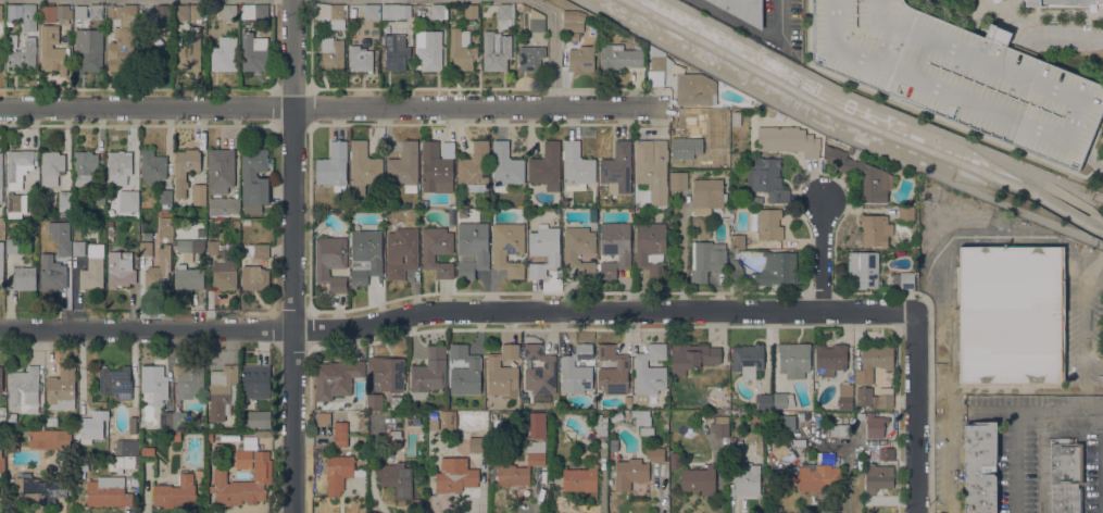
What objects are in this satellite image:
building: (1061, 2)
building: (742, 10)
building: (14, 11)
building: (254, 11)
building: (437, 11)
building: (471, 11)
building: (1, 12)
building: (28, 12)
building: (80, 12)
building: (96, 12)
building: (163, 12)
building: (187, 12)
building: (229, 12)
building: (372, 12)
building: (396, 12)
building: (330, 13)
building: (458, 13)
building: (63, 14)
building: (505, 15)
building: (9, 22)
building: (537, 23)
building: (573, 25)
road: (752, 30)
building: (122, 37)
road: (1061, 37)
building: (177, 38)
building: (12, 41)
road: (556, 43)
building: (89, 49)
building: (52, 50)
building: (429, 50)
building: (461, 50)
building: (189, 52)
building: (253, 52)
building: (396, 52)
building: (496, 52)
building: (225, 55)
building: (23, 57)
building: (331, 57)
building: (579, 57)
building: (530, 58)
building: (619, 58)
building: (154, 59)
building: (360, 59)
building: (655, 71)
building: (958, 75)
building: (685, 80)
road: (333, 107)
road: (881, 108)
building: (918, 127)
road: (837, 134)
building: (788, 140)
building: (686, 148)
building: (447, 149)
building: (18, 166)
building: (152, 166)
building: (334, 166)
building: (404, 166)
building: (435, 166)
building: (547, 166)
building: (51, 167)
building: (118, 167)
building: (475, 167)
building: (505, 167)
building: (577, 167)
building: (617, 167)
building: (363, 168)
building: (652, 168)
building: (185, 170)
building: (220, 170)
building: (862, 174)
building: (89, 175)
building: (1, 177)
building: (254, 179)
building: (767, 179)
building: (678, 180)
road: (1057, 191)
building: (709, 193)
building: (199, 195)
building: (165, 199)
building: (753, 200)
building: (64, 201)
building: (128, 201)
building: (354, 202)
building: (15, 204)
building: (564, 204)
building: (231, 209)
building: (80, 212)
building: (906, 213)
building: (34, 215)
building: (592, 215)
building: (110, 223)
building: (766, 224)
building: (165, 226)
building: (876, 230)
building: (693, 236)
building: (737, 241)
road: (945, 242)
building: (11, 246)
building: (64, 248)
building: (78, 248)
building: (212, 248)
building: (509, 248)
building: (614, 248)
building: (650, 248)
building: (146, 249)
building: (472, 249)
building: (543, 250)
building: (579, 250)
building: (184, 251)
building: (259, 251)
building: (437, 251)
building: (43, 252)
building: (401, 252)
road: (822, 253)
road: (680, 254)
building: (365, 255)
road: (292, 256)
building: (706, 260)
building: (1, 262)
building: (330, 262)
building: (92, 268)
building: (120, 270)
building: (735, 270)
building: (776, 270)
building: (863, 270)
building: (159, 272)
building: (225, 276)
building: (22, 278)
building: (189, 278)
building: (254, 278)
building: (904, 279)
building: (53, 280)
road: (455, 312)
building: (1011, 317)
road: (1083, 331)
building: (692, 356)
building: (877, 356)
building: (830, 359)
building: (747, 360)
building: (793, 360)
building: (576, 371)
building: (464, 372)
building: (539, 372)
building: (613, 372)
building: (387, 373)
building: (429, 373)
building: (503, 373)
building: (649, 373)
building: (1, 378)
building: (336, 378)
building: (189, 381)
building: (255, 381)
building: (115, 383)
building: (154, 384)
building: (25, 389)
building: (61, 389)
building: (223, 391)
building: (845, 398)
building: (875, 398)
building: (782, 400)
building: (764, 401)
building: (375, 402)
building: (396, 402)
building: (41, 406)
road: (1026, 409)
road: (914, 412)
building: (604, 414)
building: (806, 416)
building: (823, 416)
building: (860, 416)
building: (615, 417)
building: (324, 418)
building: (641, 418)
building: (165, 420)
building: (179, 420)
building: (259, 420)
building: (51, 422)
building: (447, 423)
building: (786, 424)
building: (40, 425)
building: (433, 425)
building: (537, 425)
building: (839, 425)
building: (875, 425)
building: (92, 426)
building: (210, 426)
building: (600, 426)
building: (720, 426)
building: (133, 428)
building: (341, 436)
building: (393, 436)
building: (175, 437)
building: (210, 437)
building: (49, 439)
building: (476, 445)
building: (12, 446)
building: (123, 447)
building: (735, 447)
building: (148, 451)
building: (886, 454)
building: (380, 455)
building: (536, 459)
building: (675, 460)
building: (1, 461)
road: (949, 461)
road: (1015, 461)
building: (124, 463)
building: (83, 465)
building: (980, 467)
building: (636, 470)
building: (340, 472)
building: (393, 475)
building: (455, 475)
building: (260, 476)
building: (1066, 476)
building: (816, 477)
building: (878, 477)
building: (580, 479)
building: (699, 480)
building: (747, 480)
building: (37, 489)
building: (108, 491)
building: (175, 492)

